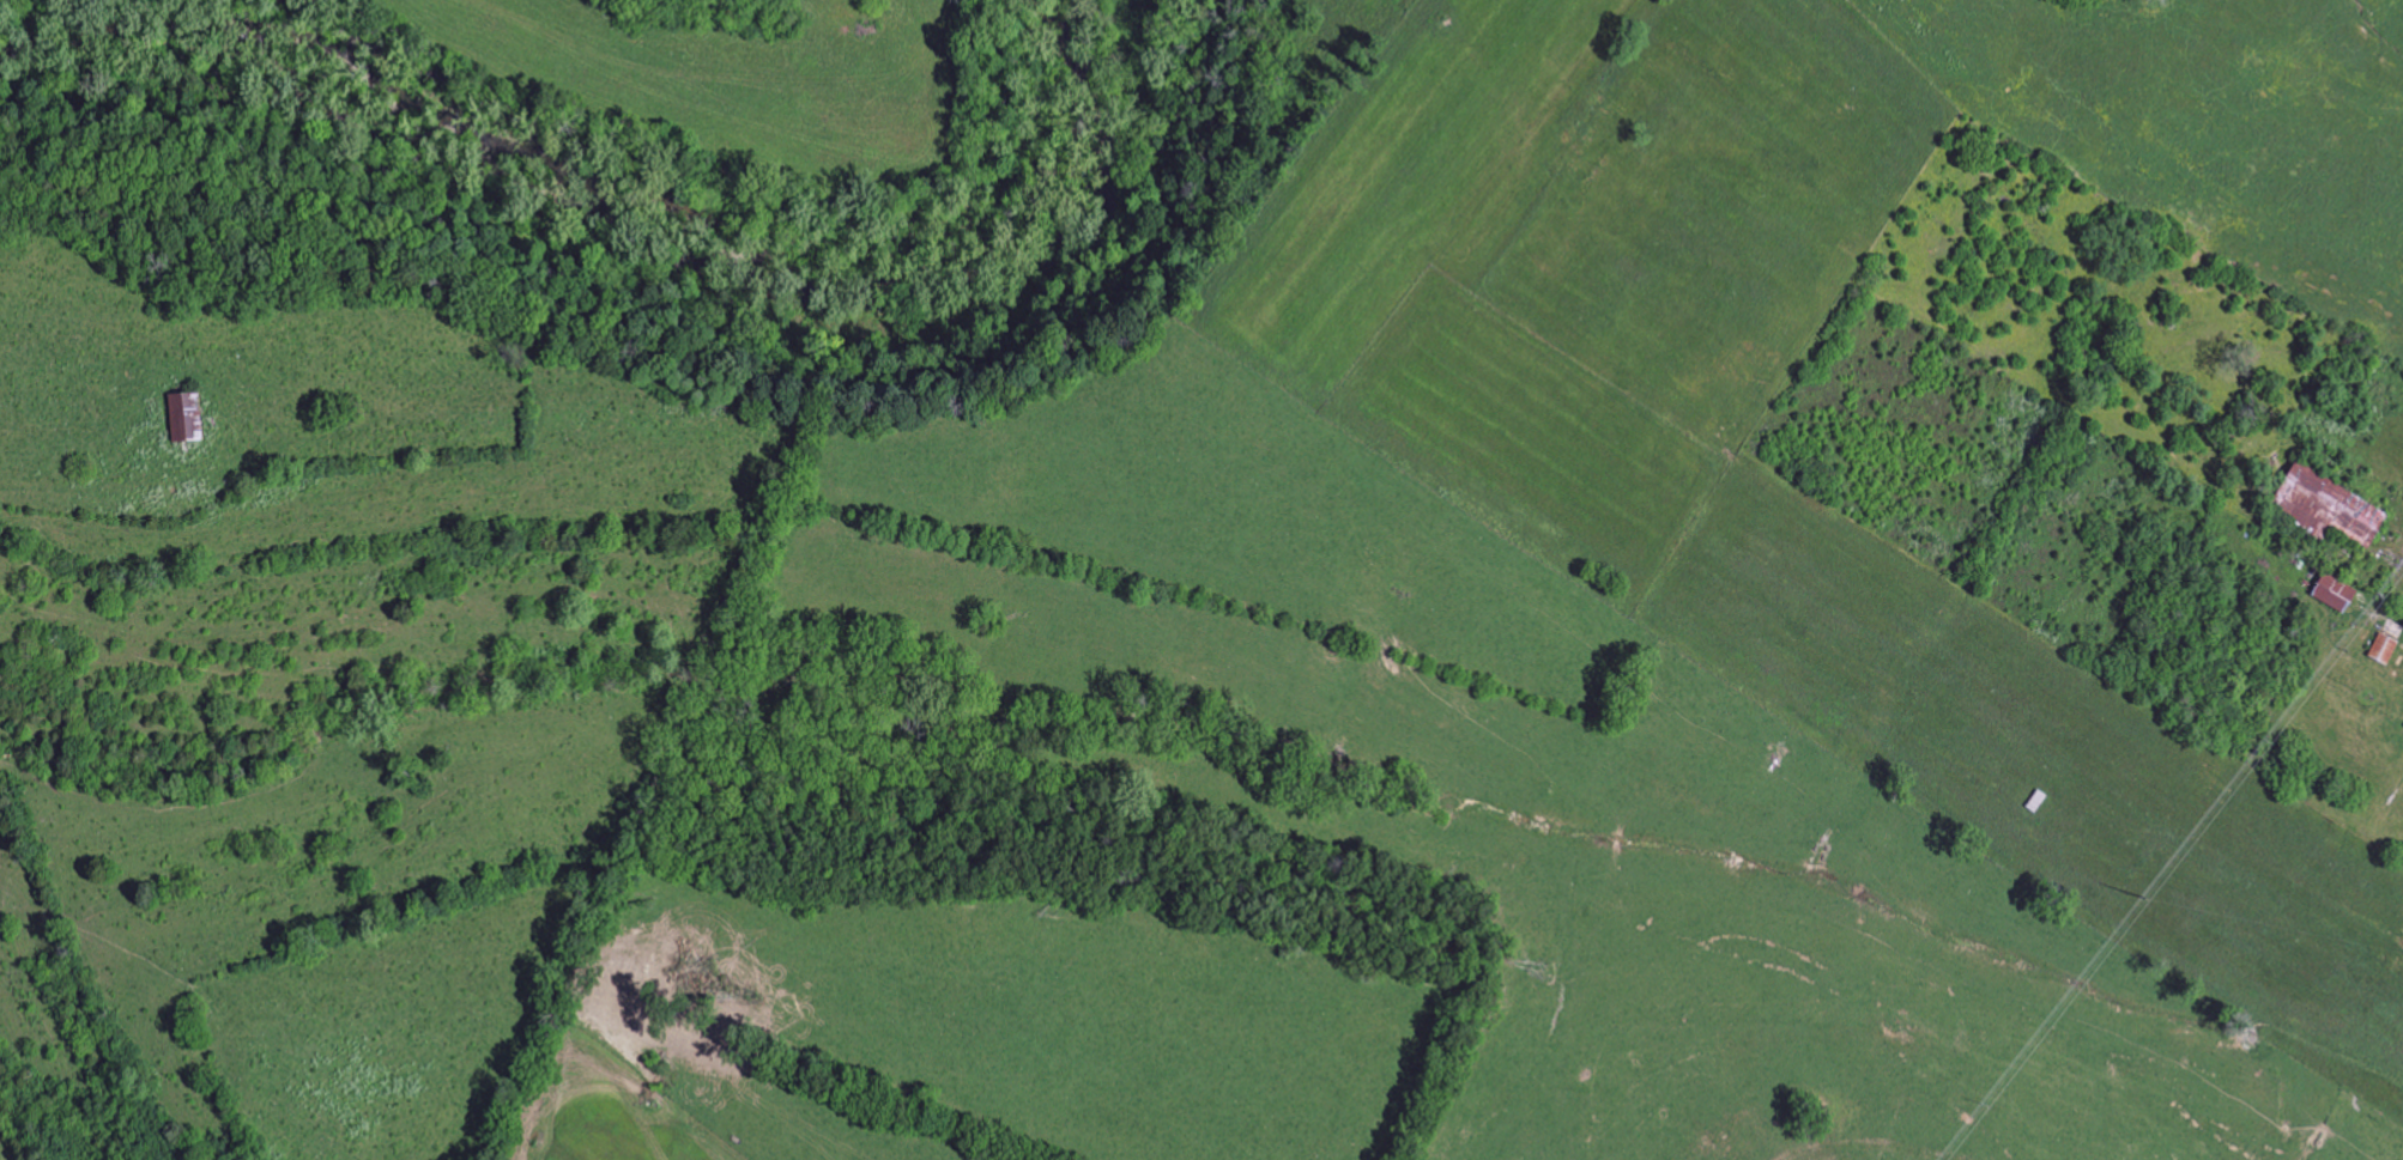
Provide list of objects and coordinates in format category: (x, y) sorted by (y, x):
building: (181, 417)
building: (2320, 505)
building: (2330, 593)
building: (2379, 649)

